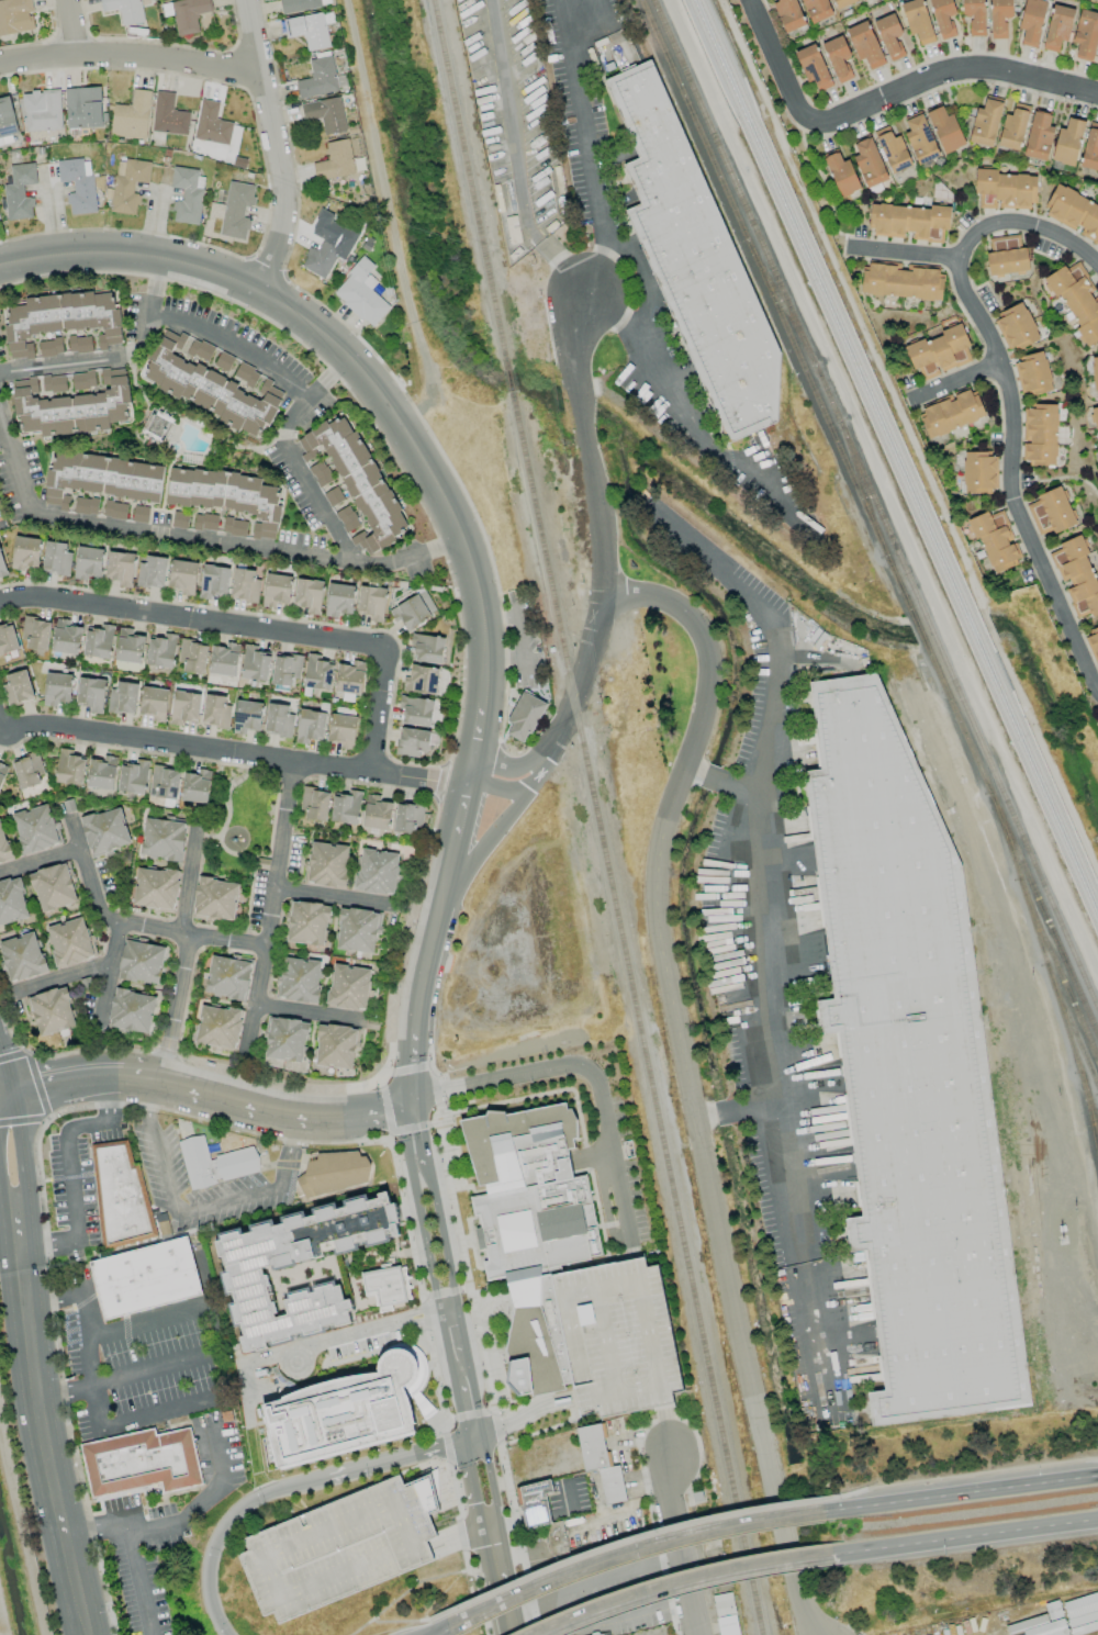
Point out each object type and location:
building: (863, 0)
building: (842, 3)
building: (298, 5)
building: (124, 10)
building: (816, 10)
building: (186, 14)
building: (788, 14)
building: (974, 15)
building: (15, 16)
building: (999, 16)
building: (943, 18)
building: (917, 21)
building: (1031, 22)
road: (69, 27)
building: (1057, 27)
building: (309, 30)
building: (889, 35)
building: (1086, 35)
building: (864, 45)
road: (131, 57)
building: (838, 57)
building: (1097, 61)
building: (813, 66)
building: (318, 78)
road: (887, 97)
building: (82, 108)
building: (42, 110)
building: (326, 114)
building: (168, 115)
building: (131, 116)
building: (7, 117)
building: (985, 123)
building: (211, 124)
building: (944, 130)
building: (1012, 130)
building: (1039, 136)
building: (920, 138)
building: (1067, 142)
road: (274, 146)
road: (591, 149)
building: (893, 149)
building: (1090, 149)
building: (335, 161)
building: (869, 164)
building: (841, 175)
railway: (470, 184)
building: (77, 186)
building: (1004, 190)
building: (19, 192)
building: (188, 195)
building: (236, 210)
building: (1074, 213)
building: (909, 222)
road: (1026, 224)
building: (328, 245)
road: (903, 251)
building: (1006, 256)
building: (694, 258)
building: (900, 281)
building: (360, 293)
building: (1076, 300)
building: (61, 320)
building: (1016, 326)
road: (206, 332)
building: (79, 344)
building: (51, 347)
building: (940, 352)
road: (350, 357)
road: (573, 360)
building: (223, 361)
road: (59, 366)
building: (246, 374)
building: (1032, 374)
building: (1095, 377)
building: (82, 380)
railway: (509, 381)
road: (955, 382)
building: (54, 383)
building: (208, 383)
road: (670, 388)
railway: (813, 395)
road: (354, 399)
building: (71, 407)
building: (950, 413)
building: (1095, 418)
building: (157, 426)
building: (1040, 435)
road: (585, 436)
railway: (898, 452)
road: (289, 455)
railway: (893, 463)
building: (978, 472)
building: (321, 473)
building: (100, 478)
road: (1008, 478)
building: (358, 481)
railway: (861, 488)
building: (227, 496)
building: (333, 496)
building: (86, 506)
railway: (874, 506)
building: (114, 509)
building: (1051, 512)
building: (139, 514)
building: (1, 517)
building: (347, 518)
road: (598, 519)
building: (179, 520)
building: (205, 522)
building: (234, 527)
road: (195, 539)
building: (995, 540)
building: (25, 552)
building: (56, 558)
building: (88, 562)
building: (2, 568)
building: (120, 568)
building: (152, 571)
building: (1077, 575)
building: (182, 576)
building: (213, 582)
building: (244, 584)
building: (276, 590)
building: (309, 595)
building: (338, 600)
building: (371, 602)
building: (413, 609)
road: (253, 625)
building: (35, 635)
building: (66, 637)
building: (8, 639)
building: (98, 641)
building: (1093, 645)
building: (128, 647)
building: (427, 648)
building: (160, 650)
building: (193, 657)
building: (224, 660)
building: (255, 664)
road: (773, 668)
building: (285, 670)
building: (317, 673)
building: (349, 677)
building: (421, 680)
building: (16, 687)
road: (578, 687)
building: (57, 688)
building: (91, 694)
building: (123, 697)
building: (154, 703)
building: (184, 707)
building: (415, 710)
building: (215, 712)
building: (247, 717)
building: (524, 717)
building: (278, 720)
building: (310, 726)
building: (341, 730)
building: (412, 742)
road: (477, 742)
road: (234, 752)
road: (503, 766)
building: (69, 768)
building: (29, 770)
building: (2, 772)
building: (101, 773)
building: (133, 776)
building: (164, 782)
road: (438, 782)
building: (195, 786)
road: (504, 788)
road: (226, 800)
building: (314, 804)
building: (345, 806)
building: (376, 813)
road: (462, 813)
park: (243, 815)
building: (407, 817)
building: (35, 829)
building: (104, 831)
road: (491, 838)
building: (163, 839)
building: (3, 847)
road: (245, 856)
building: (327, 864)
road: (43, 865)
road: (90, 869)
road: (450, 871)
building: (376, 872)
building: (53, 887)
road: (335, 898)
building: (214, 899)
building: (12, 902)
road: (271, 910)
railway: (1043, 914)
building: (306, 923)
building: (357, 930)
road: (186, 932)
railway: (623, 937)
road: (402, 941)
railway: (1038, 941)
building: (69, 942)
road: (758, 951)
road: (429, 952)
road: (182, 953)
building: (22, 956)
building: (141, 962)
railway: (1056, 971)
road: (107, 974)
building: (227, 977)
building: (299, 979)
road: (67, 981)
building: (348, 987)
building: (52, 1011)
building: (131, 1011)
road: (309, 1011)
building: (217, 1028)
building: (284, 1039)
building: (335, 1046)
railway: (1071, 1048)
road: (511, 1051)
road: (412, 1053)
road: (427, 1065)
road: (7, 1068)
road: (407, 1068)
building: (911, 1070)
road: (388, 1073)
road: (434, 1074)
road: (500, 1078)
road: (687, 1082)
road: (379, 1083)
road: (434, 1090)
road: (7, 1091)
road: (213, 1097)
road: (385, 1108)
railway: (1088, 1112)
road: (437, 1115)
road: (433, 1123)
road: (408, 1128)
road: (422, 1132)
road: (403, 1134)
road: (388, 1135)
road: (613, 1162)
building: (213, 1163)
road: (23, 1167)
road: (69, 1171)
building: (340, 1173)
building: (119, 1194)
road: (606, 1207)
road: (200, 1209)
road: (10, 1220)
building: (530, 1230)
road: (796, 1231)
road: (444, 1236)
road: (424, 1241)
building: (244, 1270)
building: (153, 1276)
road: (417, 1285)
building: (385, 1287)
road: (448, 1311)
flagpole: (504, 1313)
flagpole: (503, 1317)
flagpole: (501, 1320)
road: (147, 1323)
road: (461, 1329)
road: (362, 1332)
road: (646, 1333)
road: (442, 1334)
building: (616, 1339)
parking lot: (616, 1339)
road: (247, 1364)
road: (469, 1368)
road: (450, 1373)
road: (127, 1375)
road: (615, 1391)
road: (90, 1398)
building: (346, 1412)
road: (478, 1412)
road: (517, 1418)
road: (459, 1419)
road: (665, 1432)
road: (42, 1441)
road: (447, 1451)
building: (141, 1462)
building: (600, 1463)
road: (378, 1465)
road: (959, 1476)
road: (491, 1478)
road: (470, 1485)
road: (960, 1493)
road: (205, 1499)
building: (534, 1503)
road: (514, 1520)
road: (96, 1530)
building: (561, 1534)
road: (965, 1537)
road: (215, 1539)
road: (620, 1544)
road: (676, 1545)
building: (339, 1547)
parking lot: (339, 1547)
road: (463, 1554)
road: (629, 1554)
railway: (744, 1559)
road: (500, 1575)
road: (138, 1578)
road: (592, 1581)
road: (417, 1582)
road: (684, 1582)
building: (722, 1604)
building: (1080, 1605)
road: (401, 1621)
building: (727, 1625)
building: (1043, 1625)
road: (441, 1632)
road: (512, 1633)

